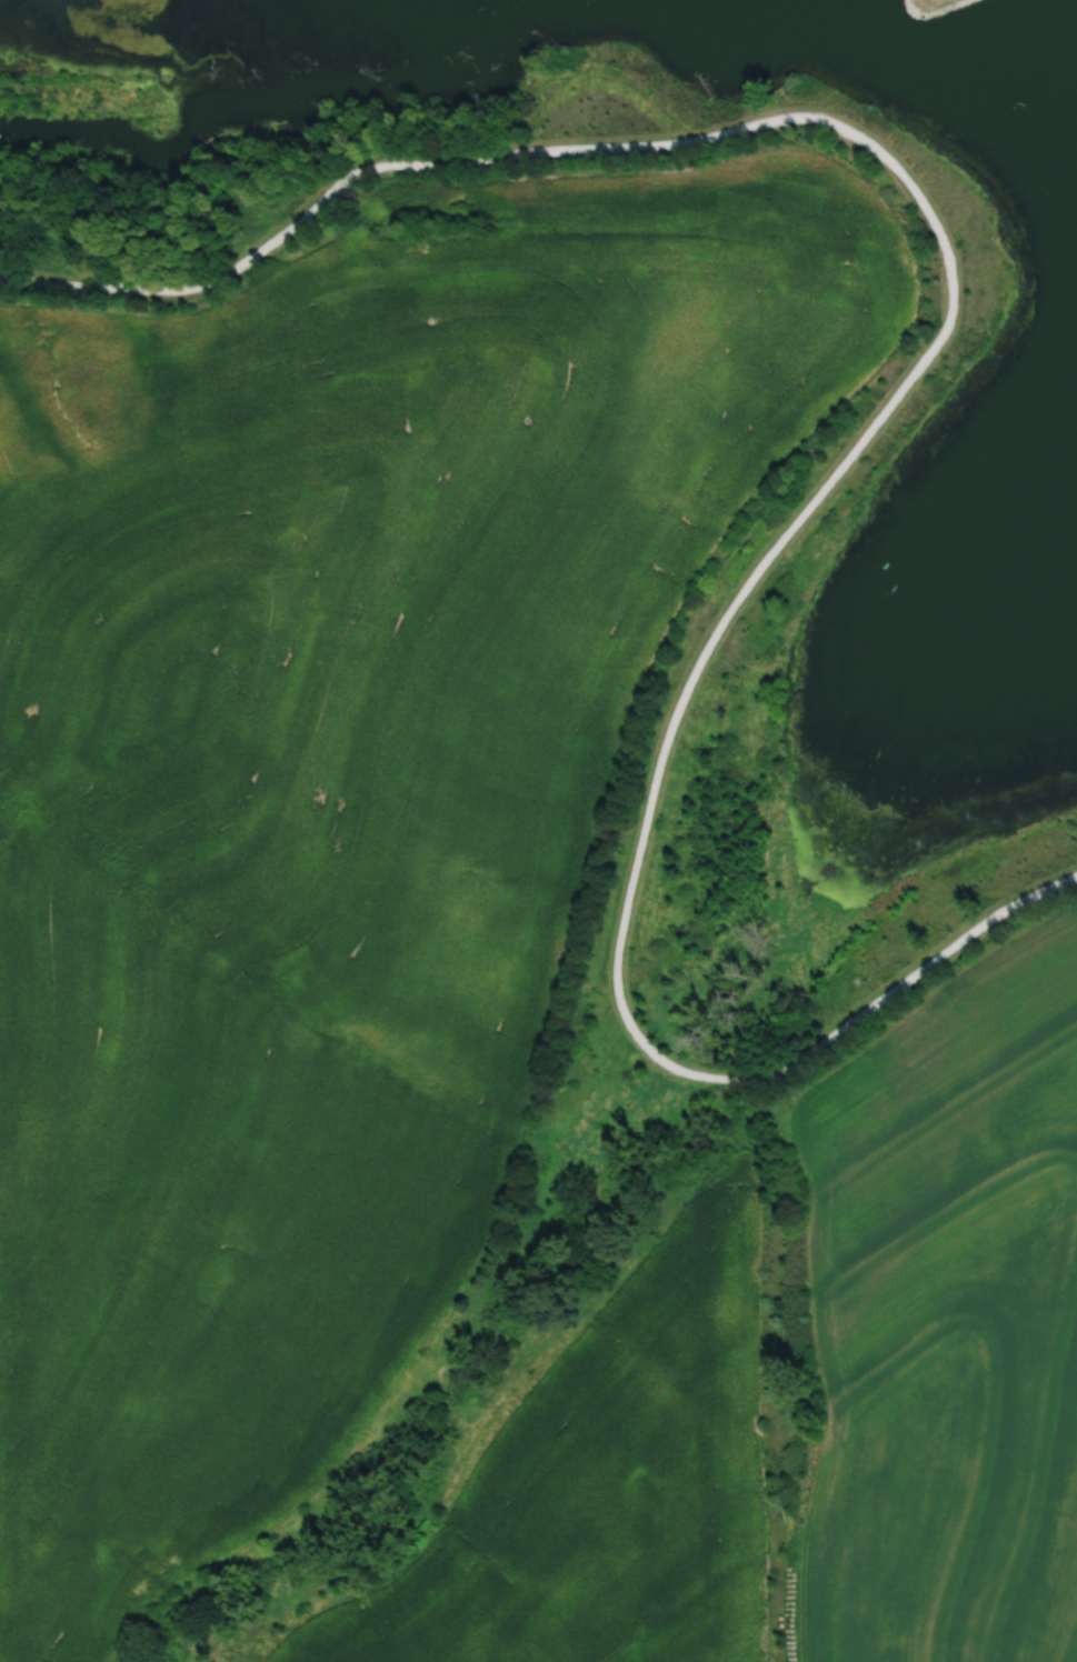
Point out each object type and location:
road: (442, 164)
park: (858, 683)
crop: (337, 793)
road: (645, 812)
crop: (947, 1321)
crop: (606, 1483)

